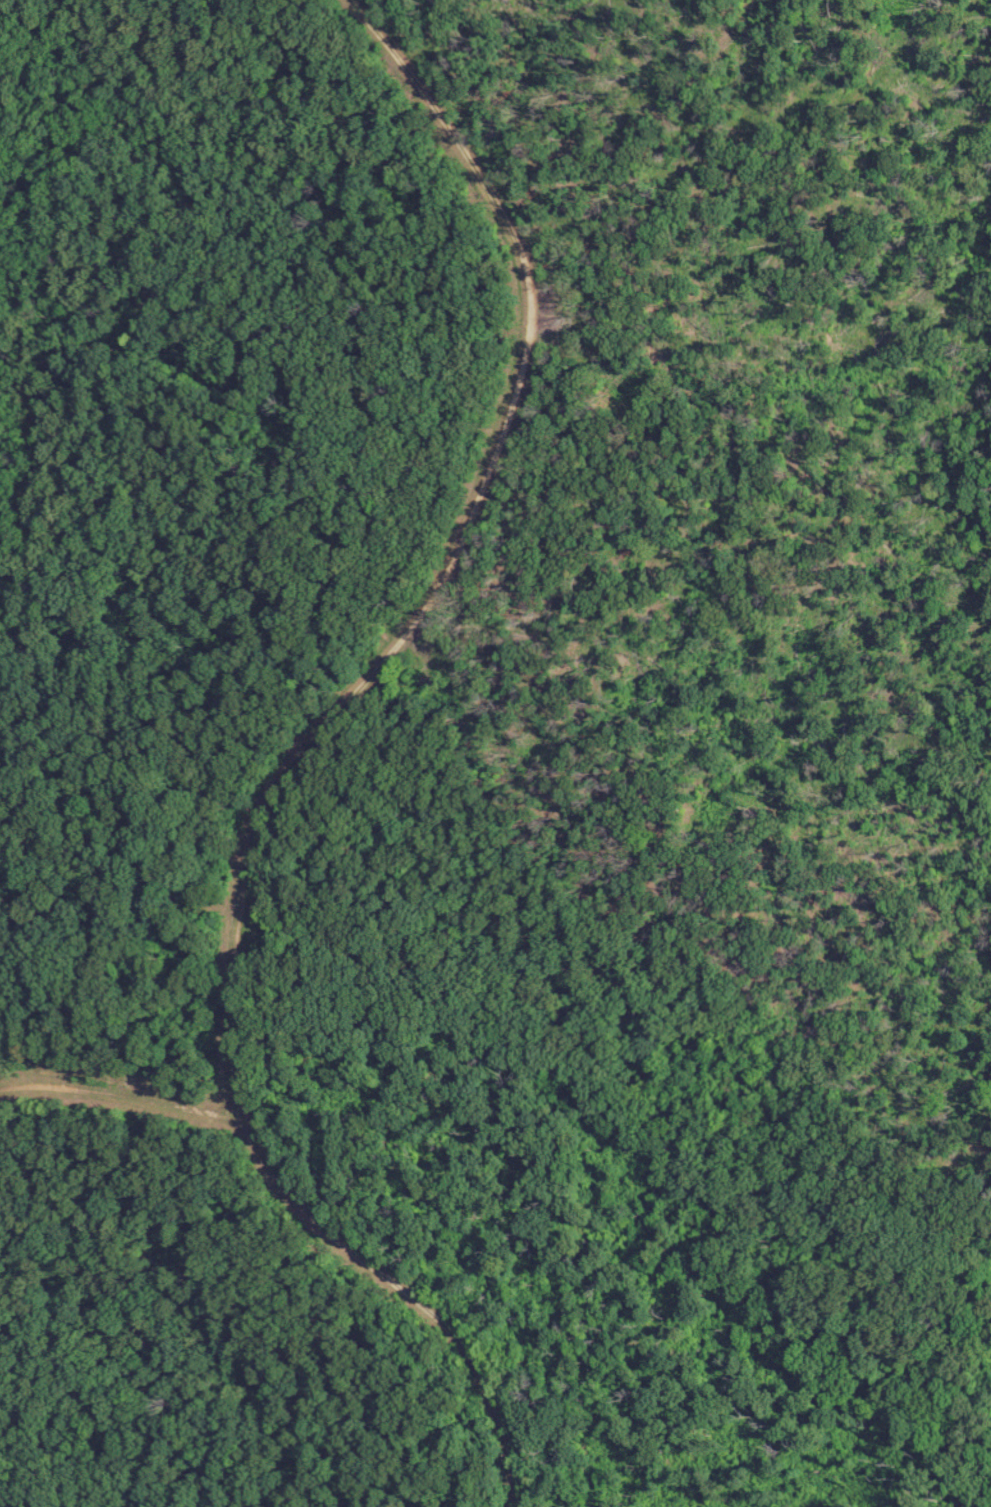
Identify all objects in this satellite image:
road: (299, 754)

